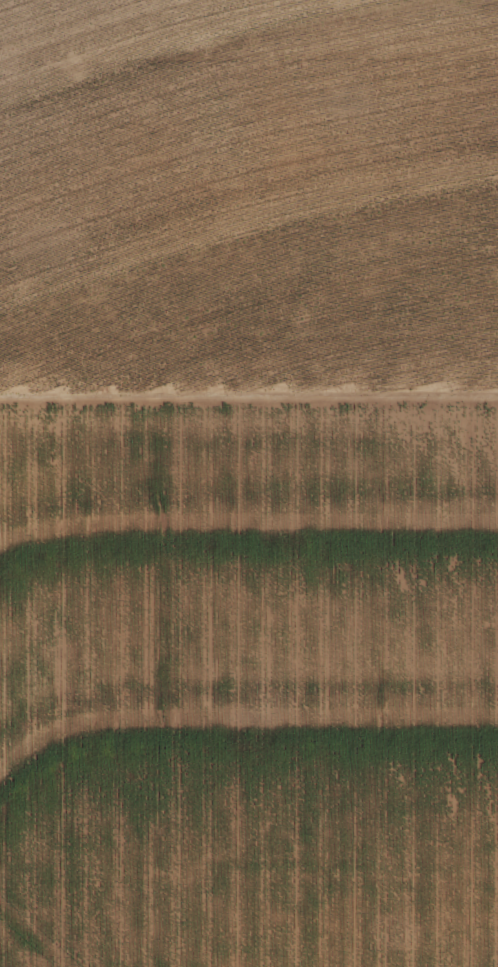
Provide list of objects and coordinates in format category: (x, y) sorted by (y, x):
road: (249, 394)

